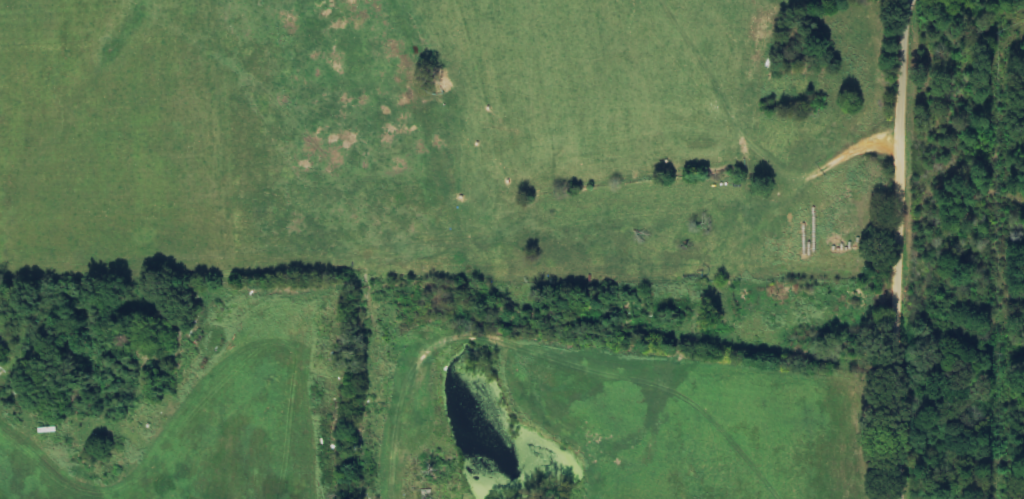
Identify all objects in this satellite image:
road: (906, 8)
road: (896, 258)

